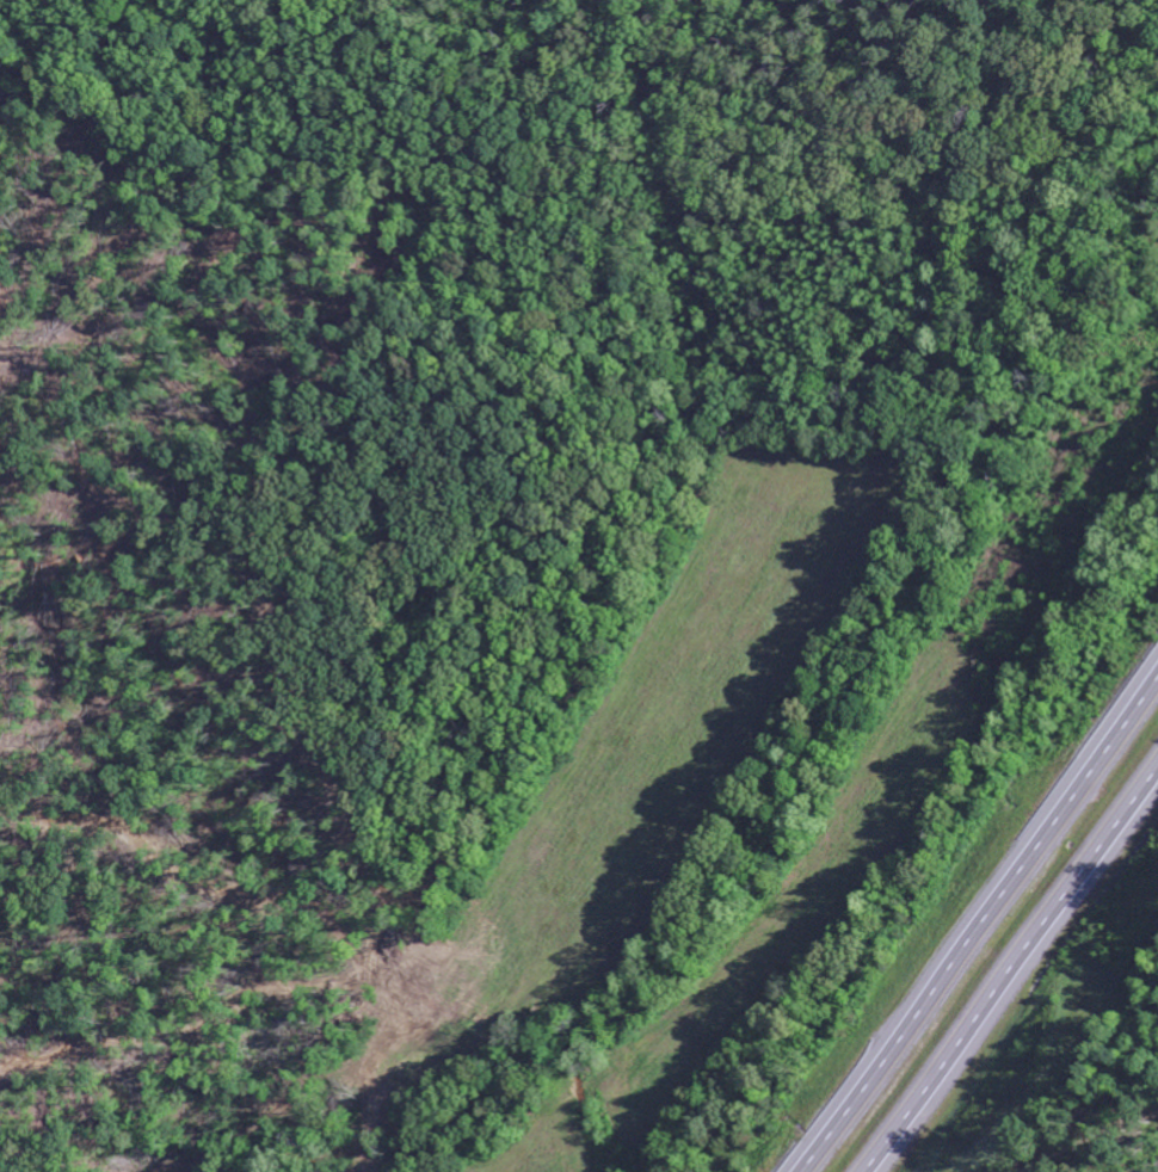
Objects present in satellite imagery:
road: (981, 929)
road: (1010, 967)

